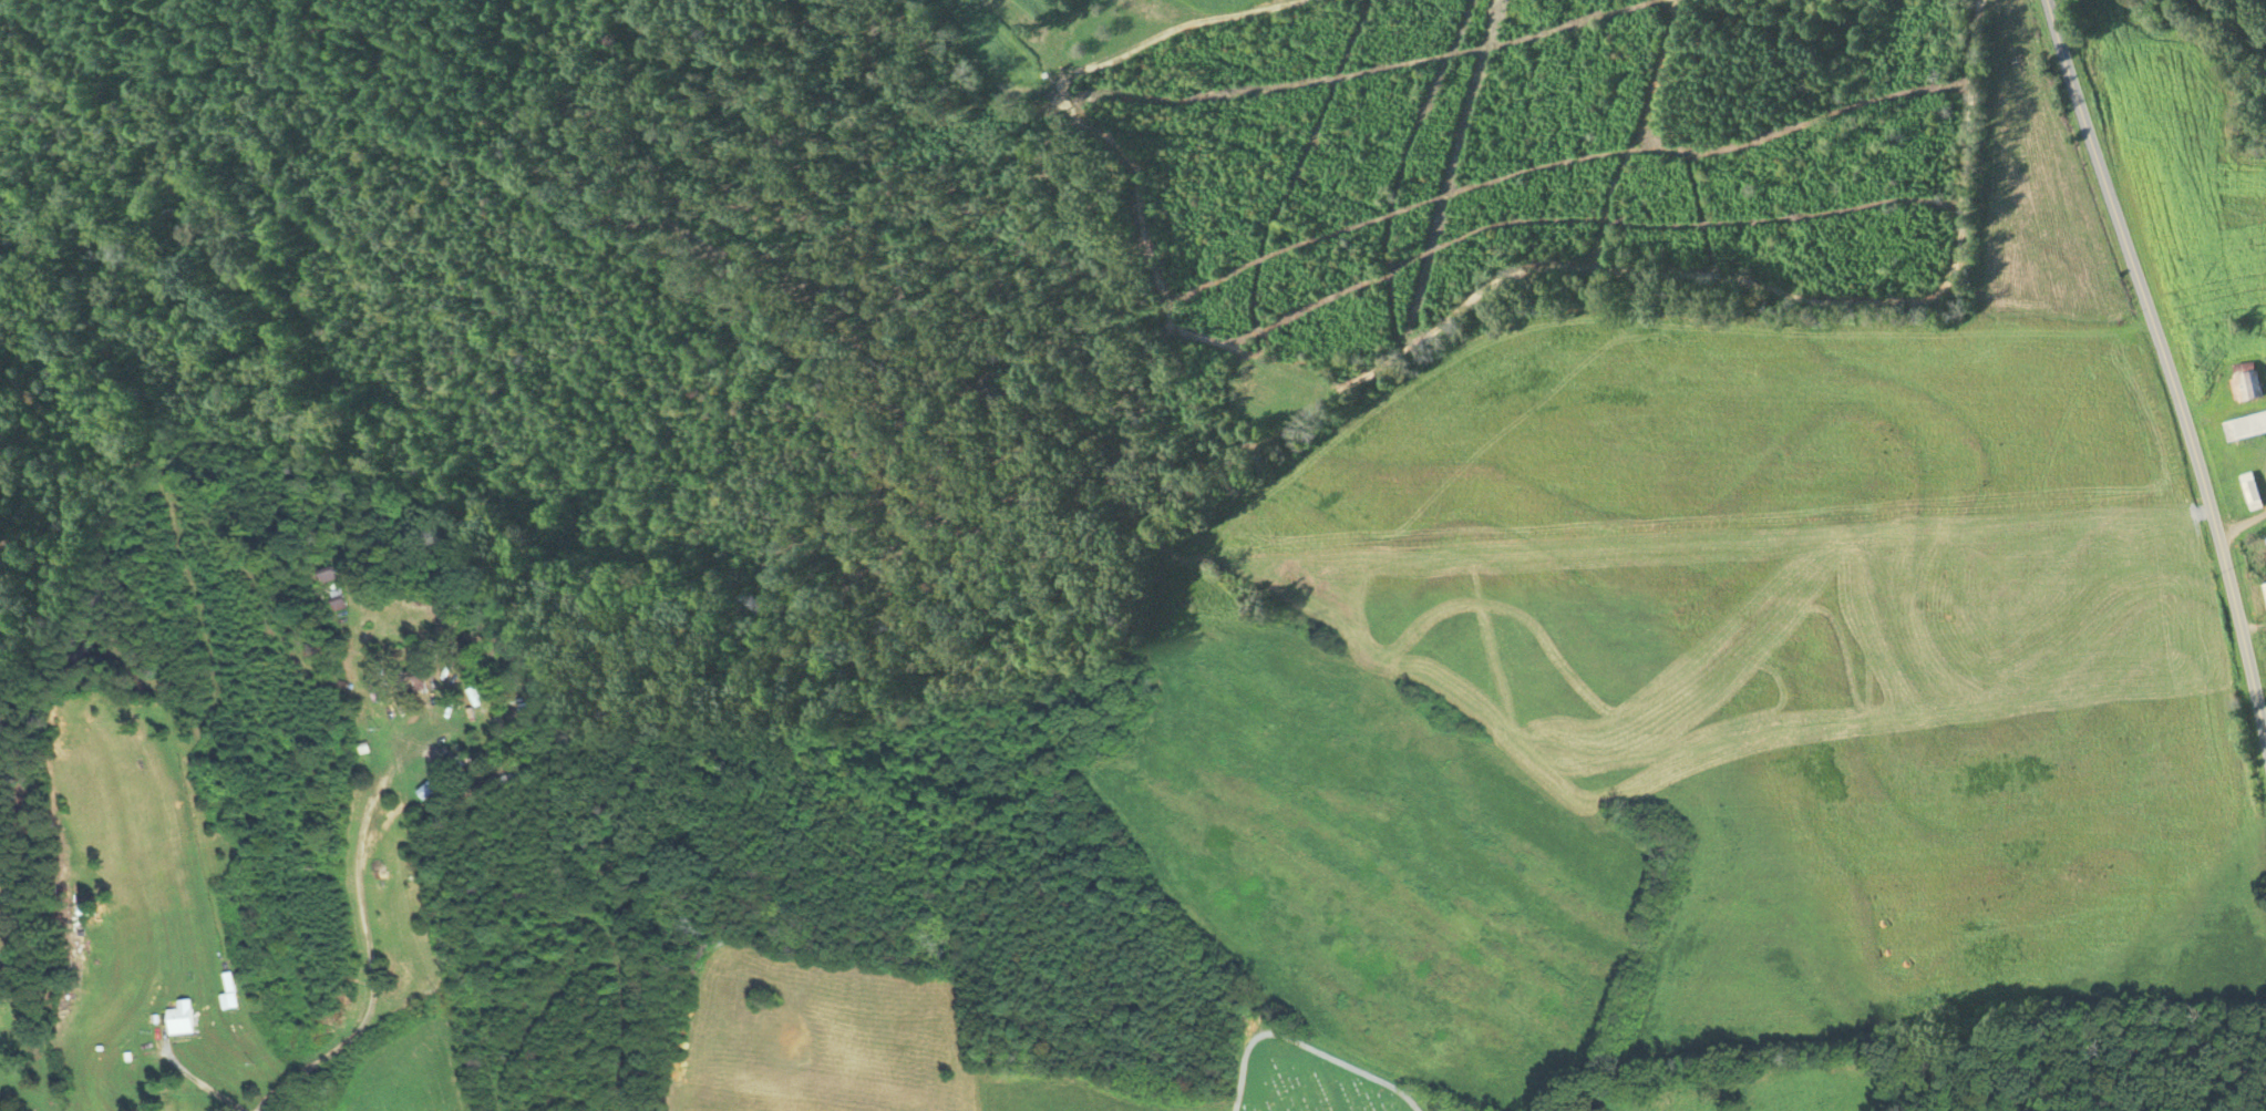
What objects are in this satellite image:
road: (2161, 368)
building: (2244, 380)
building: (2244, 424)
building: (2249, 490)
road: (2239, 526)
building: (328, 572)
building: (2265, 584)
building: (337, 597)
building: (437, 776)
road: (374, 990)
building: (181, 1019)
park: (1308, 1082)

